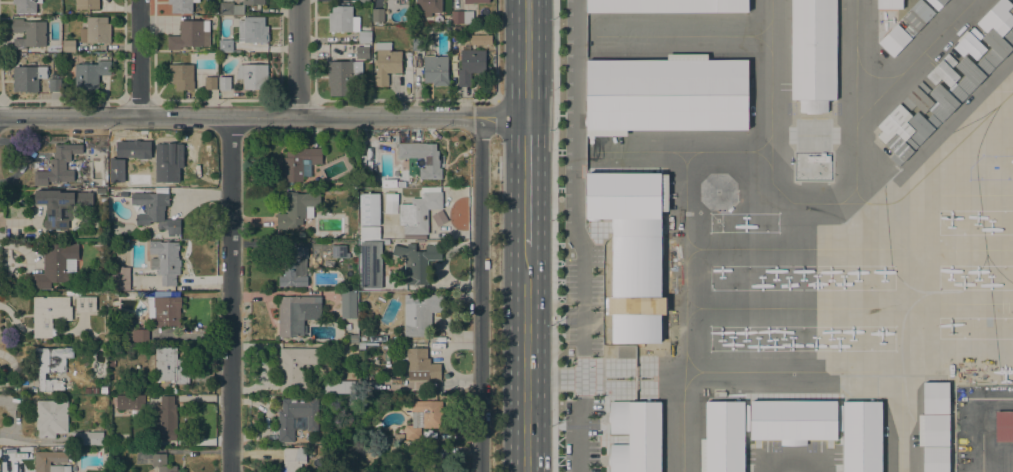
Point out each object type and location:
building: (362, 1)
building: (475, 1)
airport hangar: (888, 3)
building: (888, 3)
airport hangar: (936, 3)
building: (936, 3)
building: (86, 4)
airport hangar: (666, 5)
building: (666, 5)
building: (749, 5)
building: (25, 6)
building: (181, 6)
building: (236, 6)
building: (426, 7)
airport hangar: (1011, 9)
building: (1011, 9)
building: (377, 14)
airport hangar: (916, 16)
building: (916, 16)
airport hangar: (996, 16)
building: (996, 16)
building: (461, 17)
building: (346, 22)
building: (447, 22)
airport hangar: (1011, 27)
building: (1011, 27)
building: (252, 30)
building: (95, 31)
building: (28, 33)
building: (189, 35)
building: (479, 39)
airport hangar: (894, 39)
building: (894, 39)
airport hangar: (969, 42)
building: (969, 42)
building: (418, 44)
building: (68, 45)
airport hangar: (997, 45)
building: (997, 45)
building: (225, 46)
airport hangar: (813, 49)
building: (813, 49)
road: (495, 50)
building: (362, 52)
road: (138, 58)
road: (297, 58)
road: (525, 58)
airport taxiway: (911, 61)
building: (385, 63)
building: (470, 63)
airport taxiway: (771, 63)
building: (435, 70)
airport hangar: (942, 70)
building: (942, 70)
airport hangar: (971, 71)
building: (971, 71)
building: (90, 74)
airport taxiway: (871, 74)
building: (252, 75)
building: (181, 76)
building: (26, 77)
building: (342, 77)
building: (210, 82)
building: (224, 83)
building: (53, 85)
airport hangar: (665, 93)
building: (665, 93)
airport hangar: (917, 98)
building: (917, 98)
airport hangar: (944, 99)
building: (944, 99)
road: (354, 101)
airport taxiway: (855, 102)
building: (811, 105)
road: (488, 108)
road: (354, 116)
road: (503, 116)
road: (114, 117)
airport hangar: (894, 121)
building: (894, 121)
airport hangar: (922, 126)
building: (922, 126)
building: (370, 133)
building: (128, 148)
airport hangar: (900, 149)
building: (900, 149)
building: (422, 158)
building: (165, 162)
building: (298, 164)
building: (58, 165)
gas station: (812, 166)
airport apron: (991, 167)
road: (526, 175)
building: (118, 180)
building: (100, 190)
building: (102, 200)
building: (390, 203)
airport taxiway: (879, 204)
building: (62, 207)
building: (296, 208)
building: (370, 209)
building: (419, 211)
building: (154, 212)
building: (439, 217)
airport: (779, 231)
building: (369, 233)
building: (300, 234)
road: (553, 236)
building: (419, 241)
building: (433, 241)
building: (352, 247)
building: (339, 251)
road: (525, 253)
airport terminal: (627, 255)
building: (627, 255)
building: (165, 261)
building: (416, 262)
building: (370, 264)
building: (54, 265)
building: (292, 266)
building: (121, 278)
road: (230, 294)
road: (480, 294)
building: (85, 303)
building: (347, 305)
building: (164, 310)
building: (296, 313)
building: (48, 314)
building: (419, 314)
road: (525, 318)
building: (140, 335)
building: (363, 336)
building: (354, 338)
building: (361, 346)
building: (112, 363)
building: (418, 363)
building: (170, 364)
building: (51, 367)
building: (294, 367)
building: (111, 370)
building: (112, 378)
building: (364, 381)
building: (339, 387)
building: (103, 389)
building: (138, 389)
building: (87, 390)
building: (94, 390)
airport hangar: (934, 396)
building: (934, 396)
building: (135, 404)
building: (51, 417)
building: (296, 417)
building: (424, 417)
road: (525, 418)
airport hangar: (792, 418)
building: (792, 418)
building: (165, 419)
building: (1004, 426)
airport hangar: (935, 429)
building: (935, 429)
building: (399, 435)
parking lot: (591, 435)
airport hangar: (634, 435)
building: (634, 435)
airport hangar: (722, 436)
building: (722, 436)
airport hangar: (861, 436)
building: (861, 436)
building: (87, 438)
building: (386, 441)
building: (404, 442)
building: (349, 450)
building: (292, 459)
airport hangar: (935, 459)
building: (935, 459)
road: (790, 461)
building: (42, 462)
building: (412, 462)
building: (162, 463)
building: (347, 467)
building: (360, 467)

